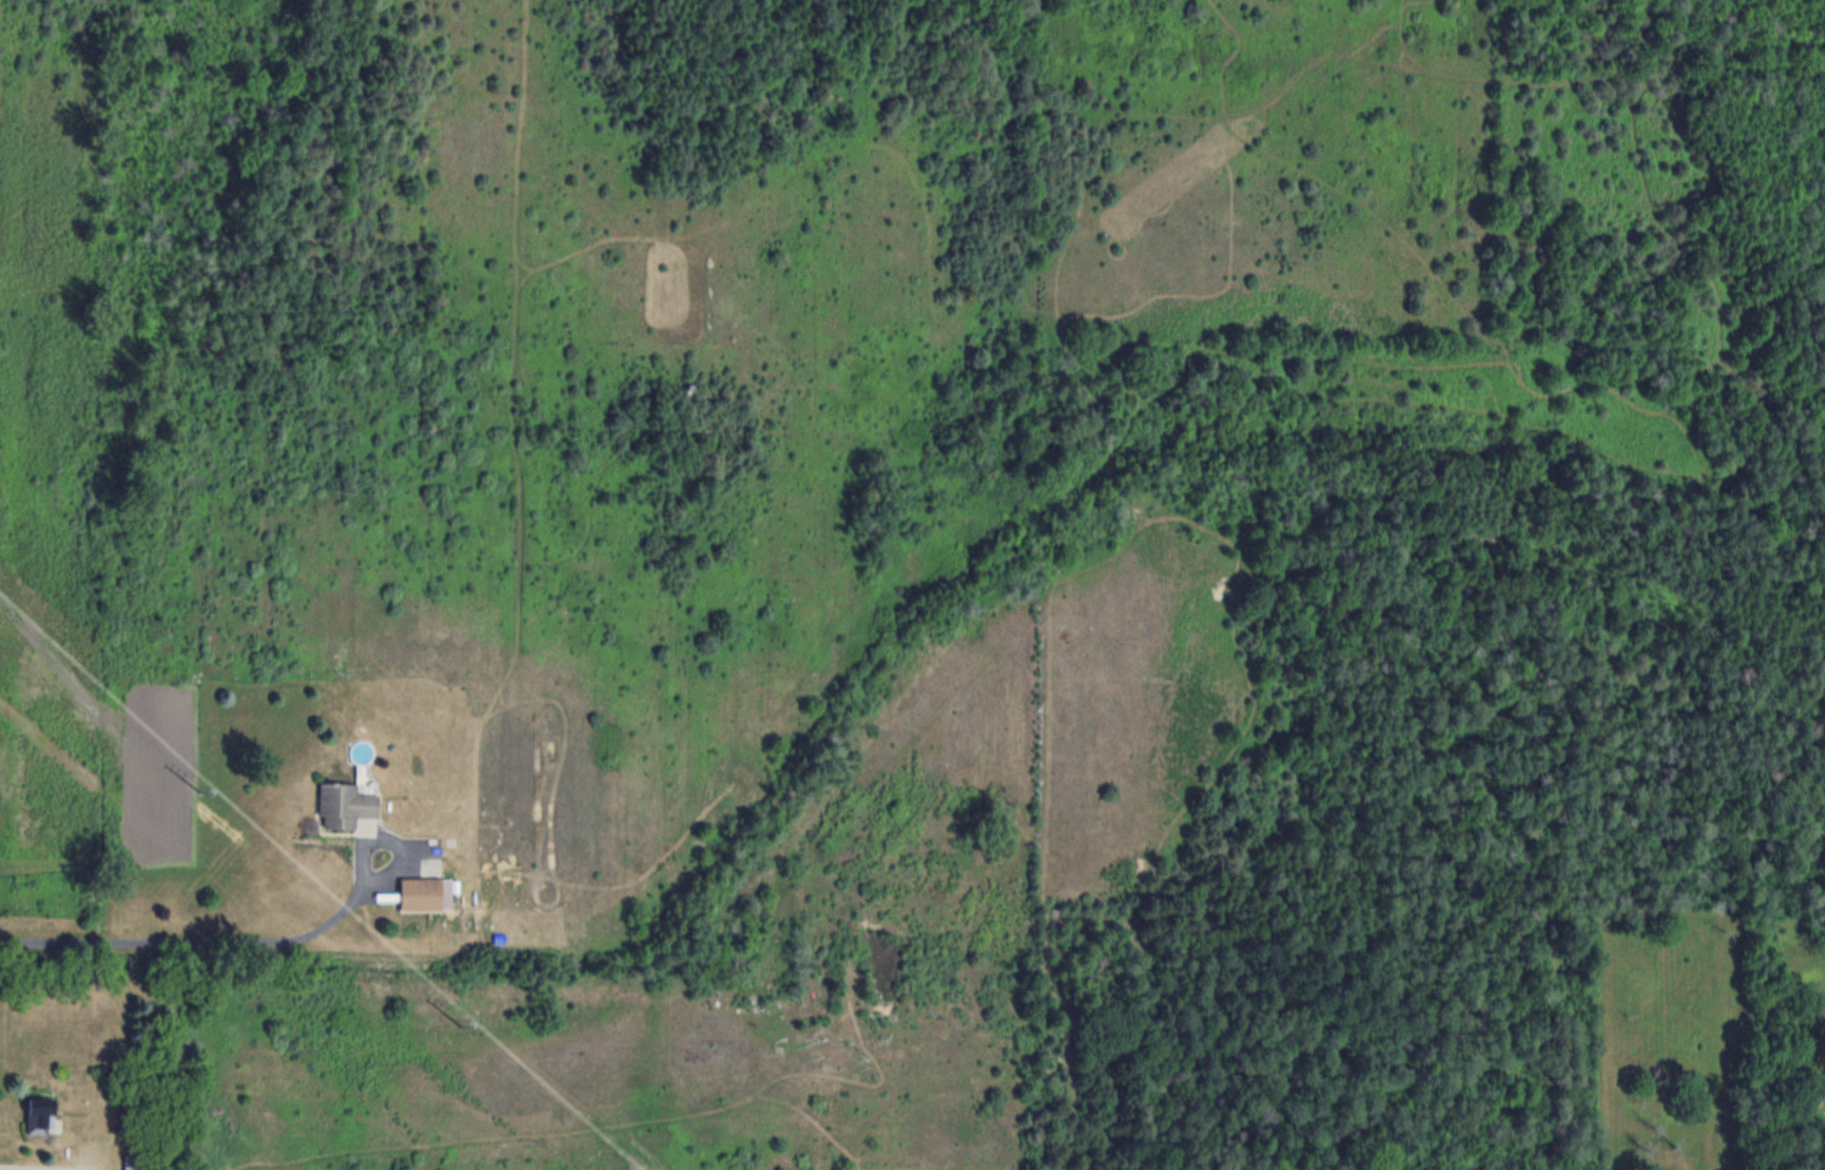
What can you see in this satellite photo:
power tower: (210, 791)
building: (345, 803)
building: (421, 892)
power tower: (464, 1023)
building: (41, 1113)
building: (131, 1162)
road: (12, 1169)

